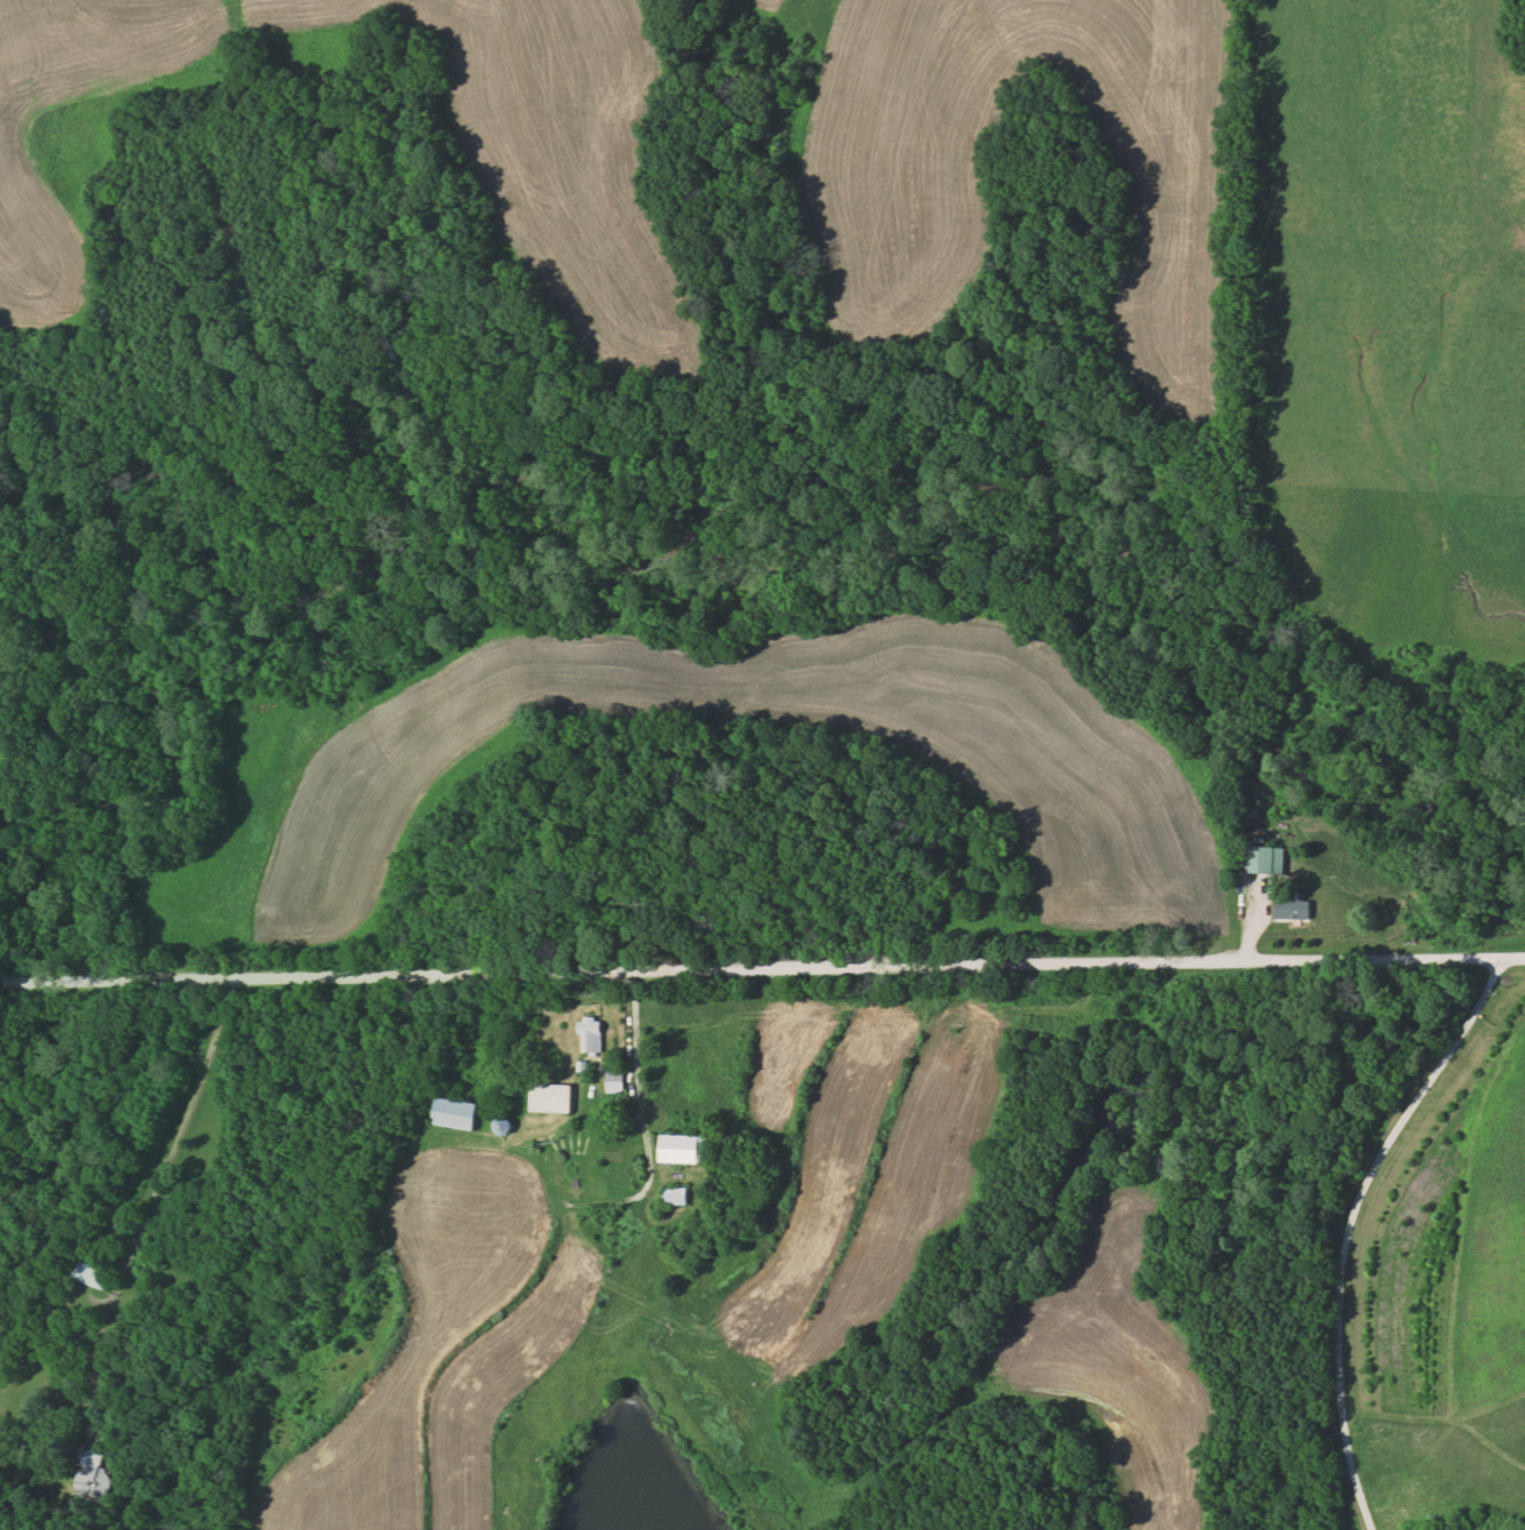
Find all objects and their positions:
building: (1268, 860)
building: (1293, 910)
road: (760, 960)
building: (592, 1034)
road: (638, 1051)
building: (614, 1082)
building: (551, 1098)
building: (455, 1114)
building: (502, 1125)
building: (686, 1149)
building: (677, 1196)
road: (1345, 1224)
road: (147, 1229)
building: (90, 1276)
building: (100, 1383)
building: (91, 1473)

